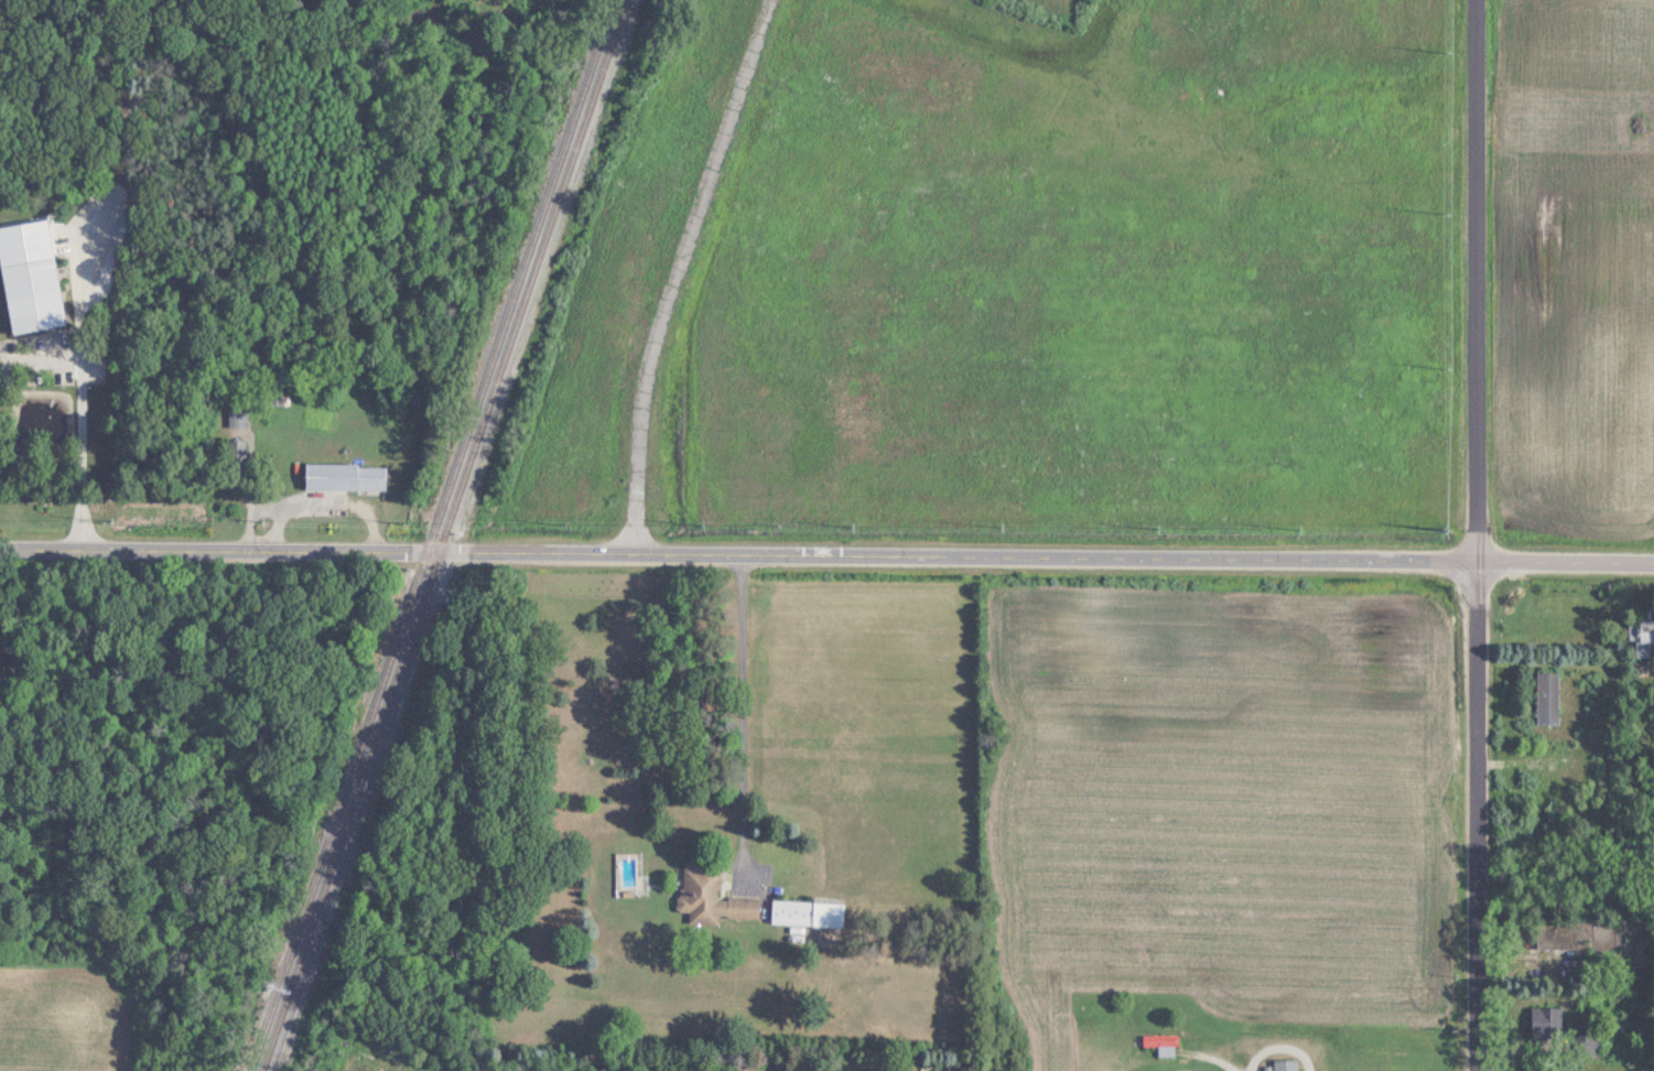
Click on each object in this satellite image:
building: (31, 294)
road: (72, 404)
building: (238, 416)
building: (236, 462)
building: (345, 477)
railway: (441, 534)
road: (1482, 534)
railway: (433, 535)
road: (826, 559)
building: (1641, 636)
building: (1548, 697)
road: (747, 722)
building: (710, 895)
building: (807, 913)
building: (1574, 938)
building: (1547, 1020)
building: (1161, 1042)
road: (1221, 1059)
building: (1285, 1064)
building: (937, 1070)

